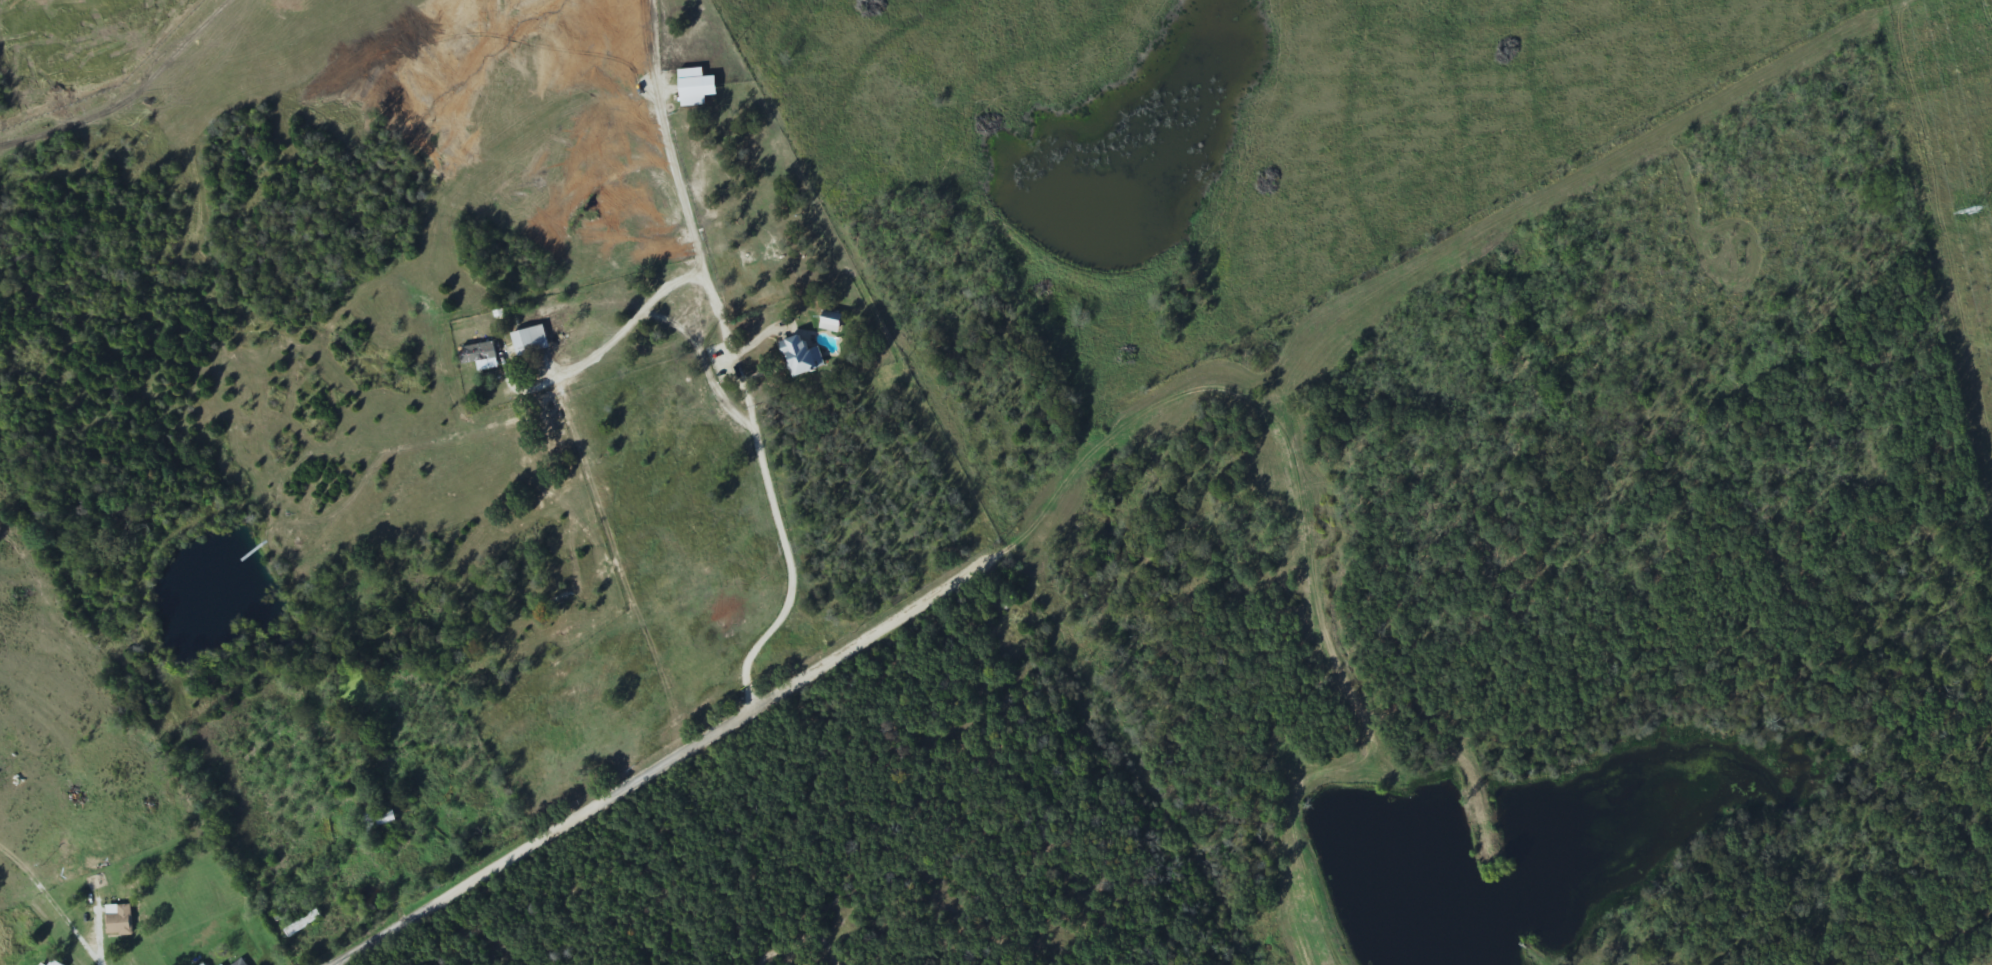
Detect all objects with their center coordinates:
building: (691, 87)
power tower: (1974, 212)
building: (526, 340)
building: (797, 357)
building: (484, 360)
road: (434, 720)
road: (669, 766)
building: (120, 922)
building: (304, 925)
building: (55, 963)
building: (240, 963)

